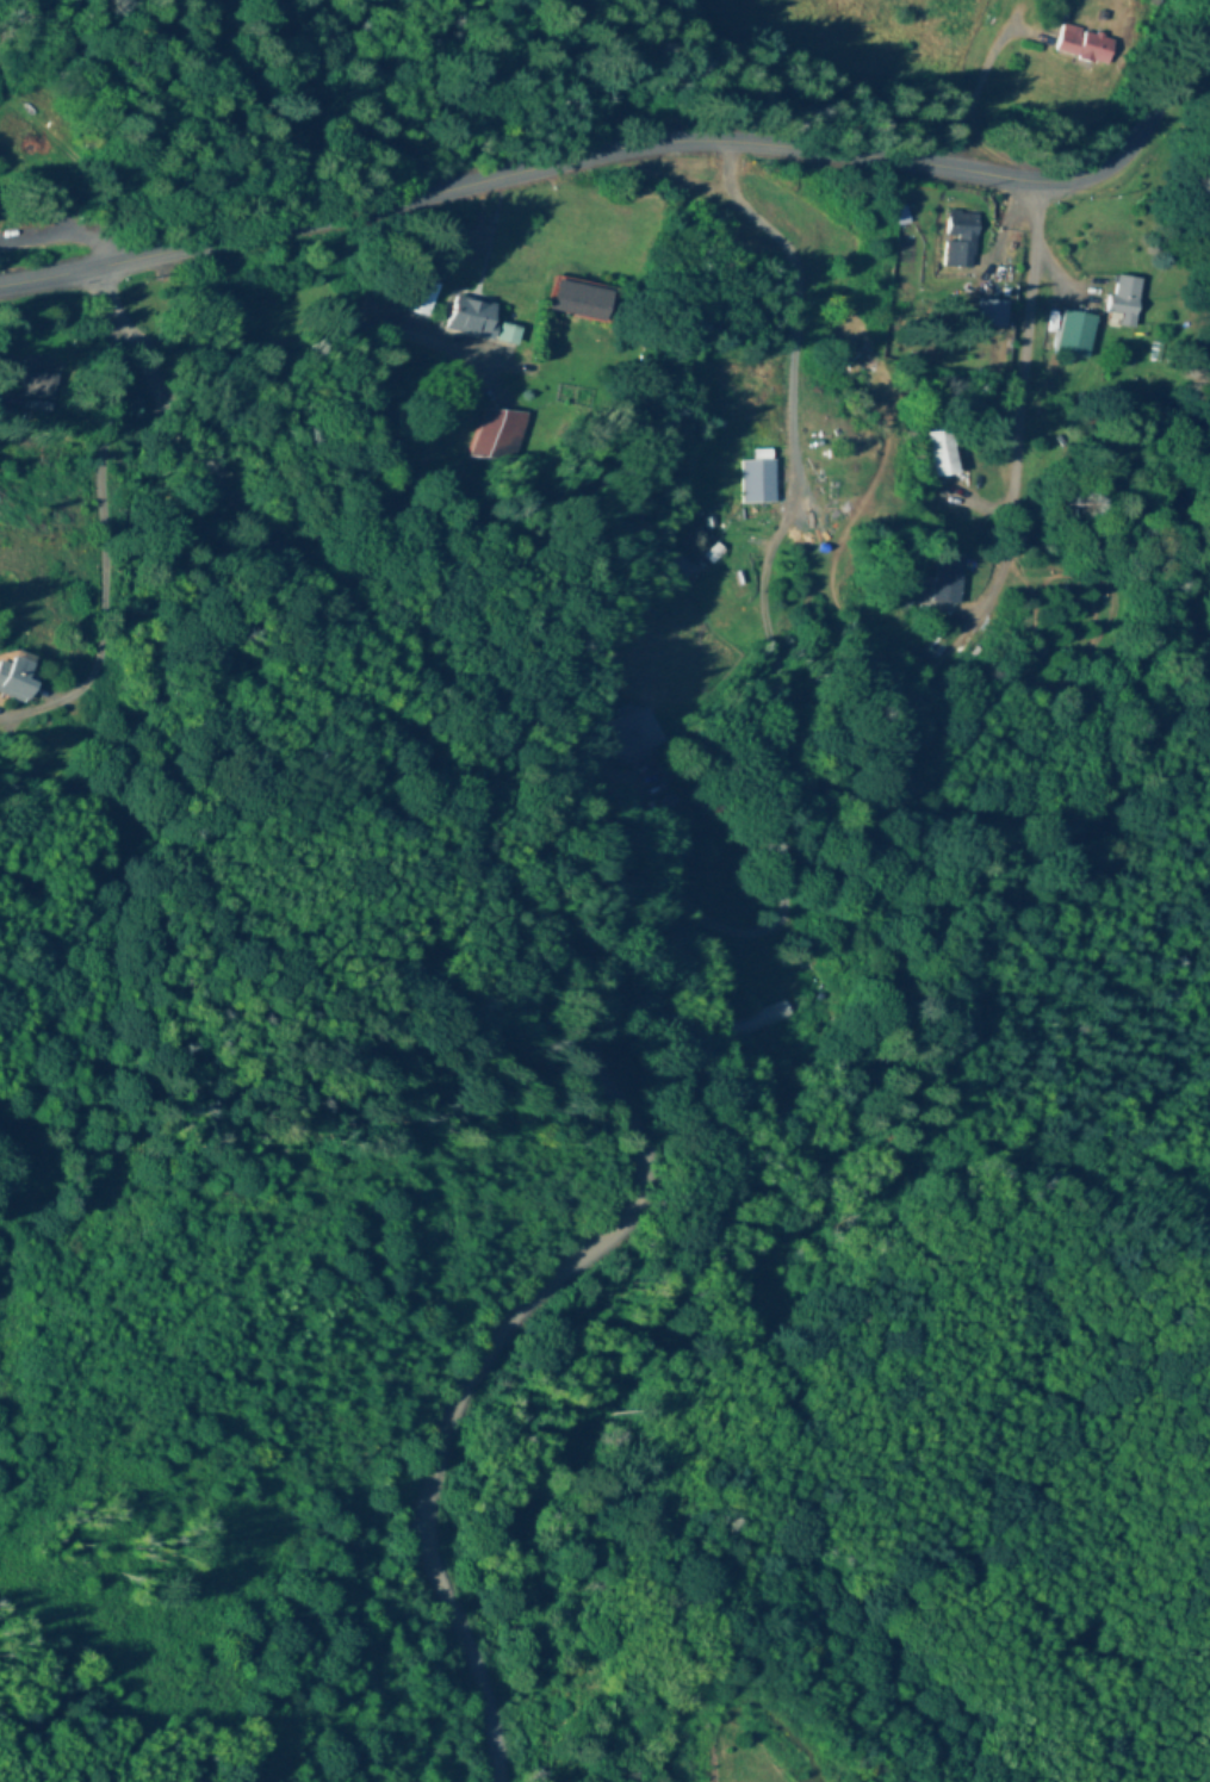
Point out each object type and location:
building: (1085, 45)
road: (640, 148)
building: (899, 217)
building: (956, 238)
road: (783, 284)
building: (1121, 299)
building: (577, 300)
building: (470, 318)
road: (322, 322)
building: (1071, 333)
road: (1007, 384)
building: (36, 385)
road: (4, 401)
building: (495, 435)
building: (942, 453)
building: (752, 480)
road: (124, 542)
building: (701, 552)
building: (943, 577)
building: (20, 675)
building: (650, 737)
road: (664, 1004)
building: (780, 1019)

